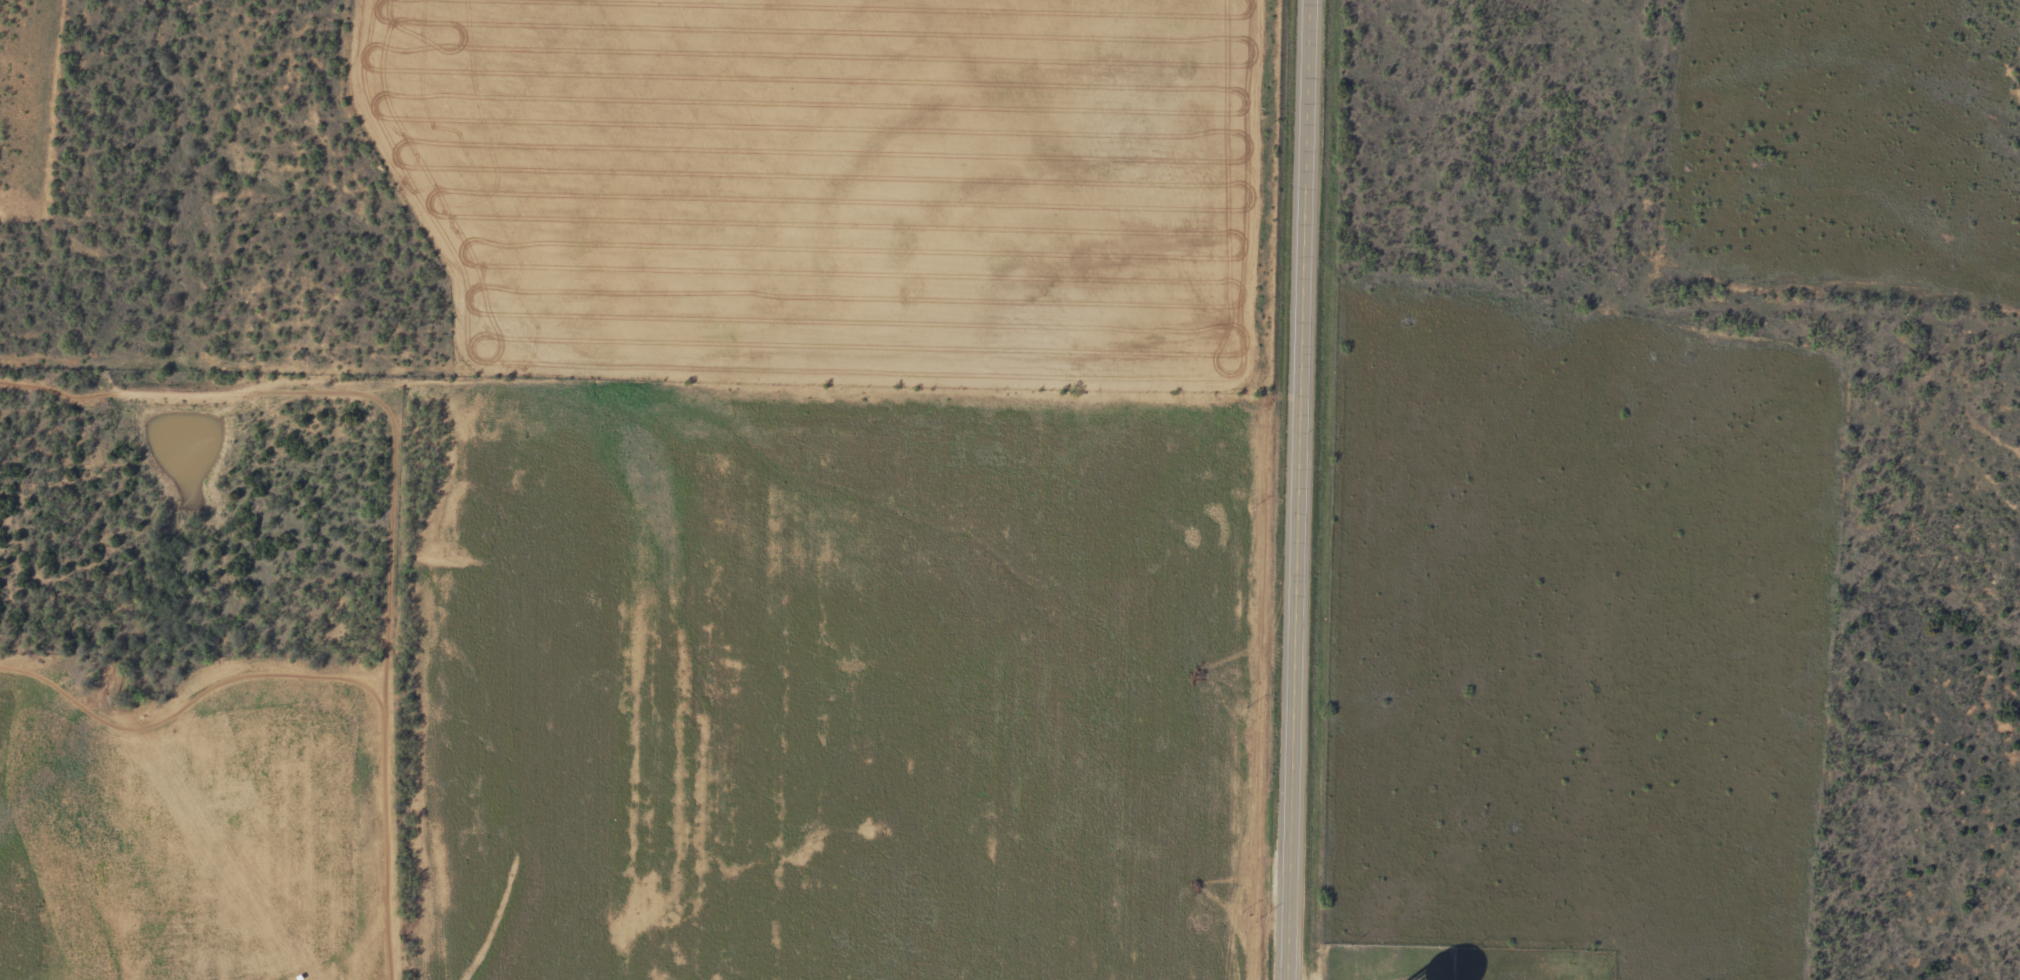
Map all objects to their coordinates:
road: (1662, 335)
road: (1304, 490)

